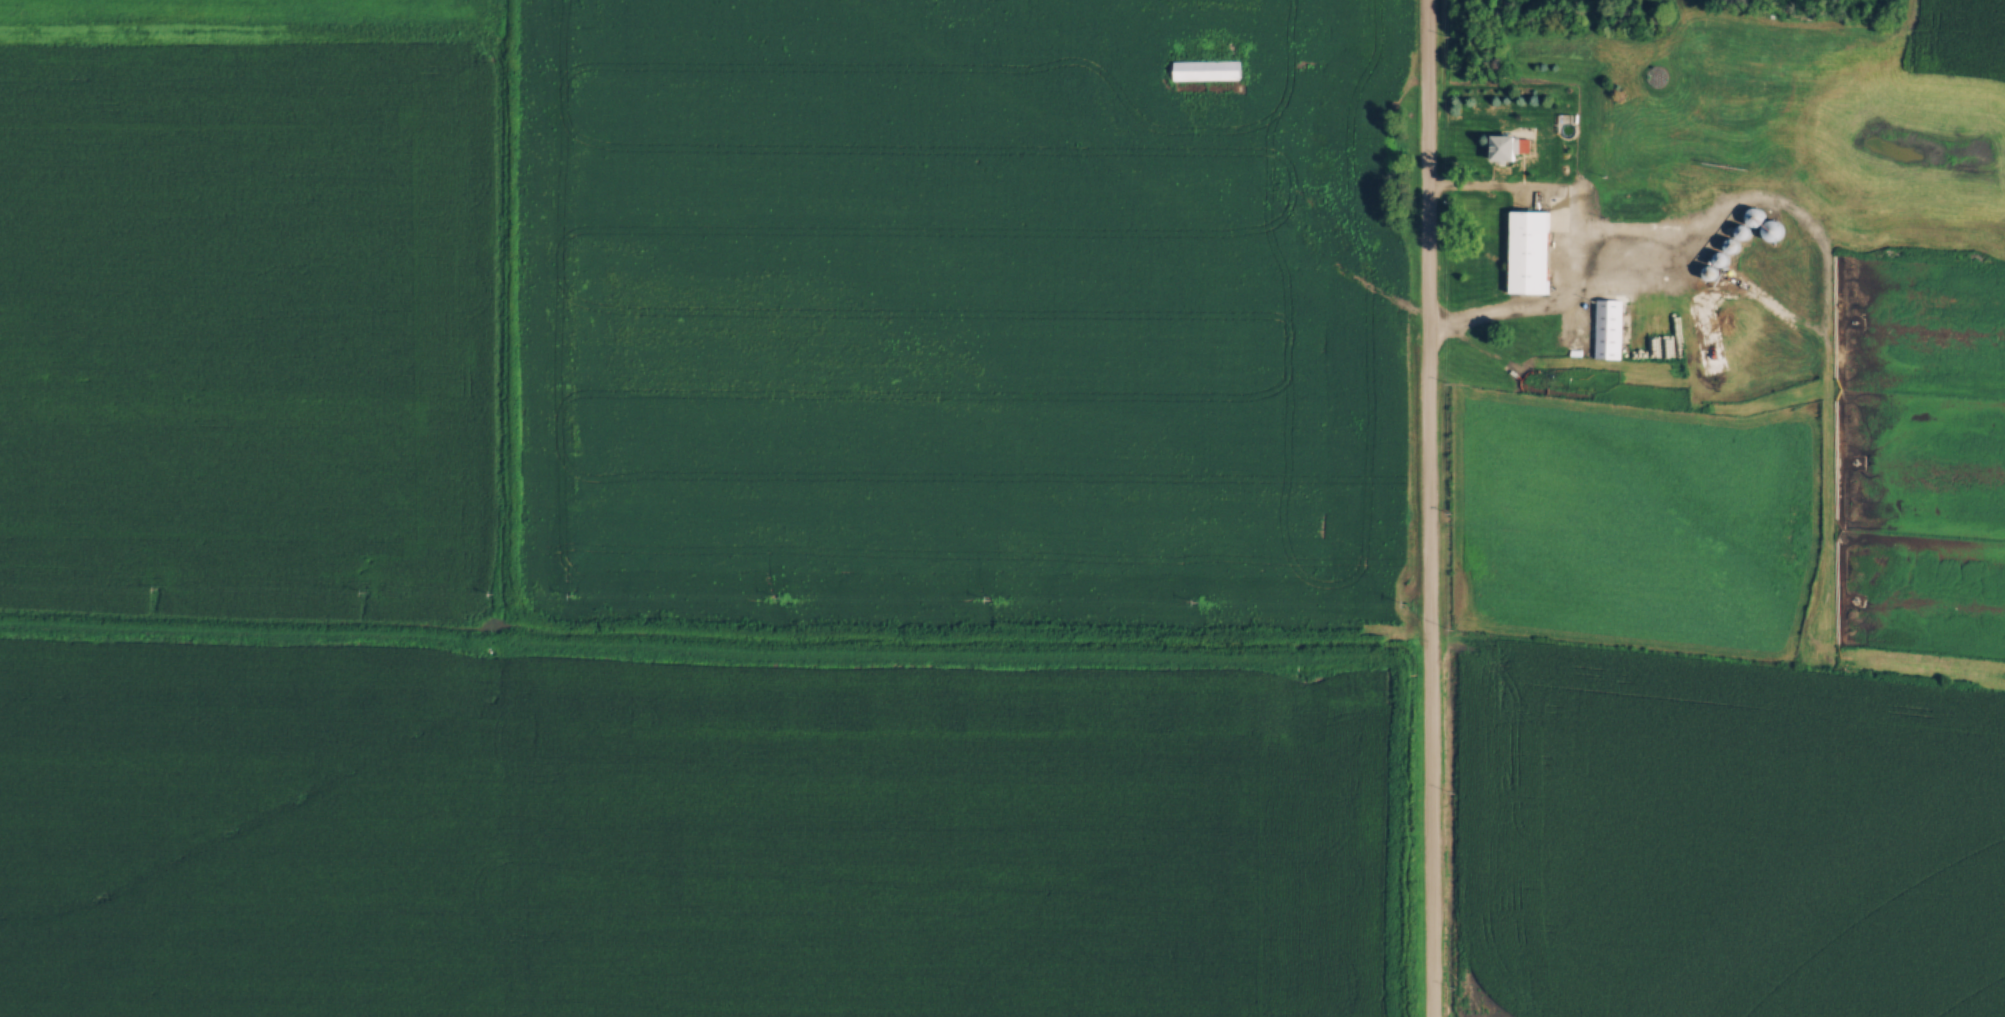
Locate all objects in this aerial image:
building: (1206, 66)
building: (1506, 144)
building: (1735, 169)
building: (1529, 249)
road: (1567, 252)
building: (1608, 326)
road: (1426, 508)

